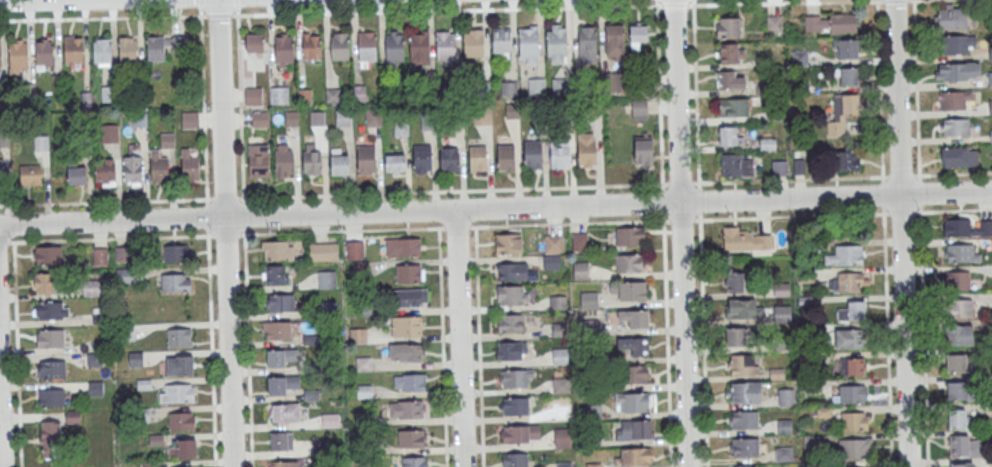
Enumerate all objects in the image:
road: (44, 0)
road: (895, 0)
road: (909, 0)
road: (786, 3)
road: (200, 4)
road: (236, 4)
road: (676, 6)
road: (447, 10)
road: (218, 14)
road: (103, 17)
building: (953, 19)
building: (773, 23)
building: (830, 24)
building: (728, 26)
building: (639, 34)
building: (614, 38)
building: (502, 40)
building: (475, 42)
building: (255, 43)
building: (529, 44)
building: (556, 45)
building: (588, 45)
building: (956, 45)
building: (367, 46)
building: (312, 47)
building: (340, 47)
building: (395, 47)
building: (420, 47)
building: (446, 47)
building: (156, 48)
building: (74, 49)
building: (284, 49)
building: (847, 49)
building: (103, 50)
building: (128, 51)
building: (730, 52)
building: (45, 53)
building: (19, 54)
building: (0, 56)
building: (956, 71)
building: (848, 76)
building: (729, 80)
building: (562, 86)
building: (581, 86)
building: (537, 87)
building: (509, 88)
road: (916, 89)
road: (879, 91)
building: (110, 94)
building: (279, 95)
road: (660, 95)
road: (696, 95)
building: (253, 96)
building: (305, 96)
building: (333, 96)
building: (954, 99)
road: (240, 105)
road: (203, 106)
building: (990, 106)
building: (733, 107)
building: (595, 108)
building: (639, 108)
building: (539, 110)
building: (513, 112)
building: (842, 113)
building: (482, 115)
building: (374, 117)
building: (291, 118)
building: (344, 118)
building: (259, 119)
building: (190, 120)
building: (428, 122)
building: (954, 126)
building: (401, 128)
building: (321, 130)
building: (109, 135)
building: (732, 135)
building: (83, 140)
building: (168, 140)
building: (42, 143)
building: (768, 143)
building: (644, 149)
building: (587, 151)
building: (533, 153)
building: (560, 153)
building: (959, 156)
building: (422, 158)
building: (478, 158)
building: (506, 158)
building: (366, 159)
building: (449, 159)
building: (849, 159)
building: (283, 162)
building: (312, 162)
building: (339, 162)
building: (395, 162)
building: (258, 164)
building: (158, 165)
building: (736, 165)
building: (189, 166)
building: (779, 168)
building: (132, 169)
building: (1, 171)
building: (104, 171)
road: (953, 173)
building: (76, 174)
road: (901, 175)
building: (31, 176)
road: (563, 187)
road: (919, 192)
road: (883, 194)
road: (225, 198)
road: (106, 202)
road: (700, 202)
road: (663, 203)
road: (495, 208)
road: (953, 210)
road: (901, 212)
road: (244, 215)
road: (207, 216)
road: (564, 223)
building: (967, 227)
road: (13, 230)
road: (225, 233)
road: (681, 233)
road: (900, 233)
road: (227, 234)
building: (631, 237)
road: (106, 238)
building: (747, 241)
building: (580, 242)
building: (509, 244)
building: (554, 244)
building: (403, 247)
building: (277, 250)
building: (355, 250)
building: (324, 252)
building: (175, 253)
building: (960, 253)
building: (48, 255)
building: (846, 255)
building: (100, 256)
building: (552, 262)
building: (629, 264)
building: (362, 269)
building: (581, 271)
building: (514, 272)
building: (409, 274)
building: (125, 275)
building: (275, 275)
building: (807, 276)
building: (957, 279)
building: (326, 281)
building: (734, 281)
building: (847, 281)
building: (45, 283)
building: (176, 283)
building: (90, 288)
building: (782, 289)
building: (633, 291)
building: (510, 295)
building: (411, 298)
building: (589, 300)
building: (557, 302)
building: (805, 302)
building: (280, 303)
building: (363, 306)
building: (959, 307)
building: (743, 308)
building: (328, 309)
building: (50, 310)
building: (853, 311)
building: (783, 315)
building: (635, 319)
building: (511, 324)
building: (407, 326)
building: (591, 326)
building: (278, 330)
building: (560, 330)
building: (127, 332)
building: (807, 333)
building: (959, 334)
building: (358, 336)
building: (742, 336)
road: (887, 336)
road: (923, 336)
road: (479, 337)
building: (51, 338)
building: (179, 338)
road: (442, 338)
road: (459, 338)
building: (848, 338)
building: (311, 340)
road: (667, 341)
road: (703, 341)
building: (783, 343)
building: (635, 346)
road: (247, 347)
road: (211, 348)
building: (512, 351)
road: (17, 352)
building: (406, 352)
building: (281, 356)
building: (560, 357)
building: (95, 359)
building: (136, 359)
building: (808, 359)
building: (599, 360)
building: (959, 362)
building: (364, 364)
building: (746, 365)
building: (852, 365)
building: (181, 366)
building: (312, 367)
building: (53, 370)
building: (633, 374)
building: (777, 374)
building: (516, 378)
building: (409, 381)
building: (144, 384)
building: (282, 384)
building: (562, 385)
building: (811, 385)
building: (97, 388)
building: (957, 391)
building: (364, 392)
building: (180, 393)
building: (747, 393)
building: (851, 393)
building: (312, 394)
building: (50, 397)
building: (787, 397)
building: (634, 402)
building: (516, 406)
building: (407, 410)
building: (825, 411)
building: (593, 412)
building: (286, 413)
building: (563, 414)
building: (141, 415)
building: (364, 418)
building: (957, 419)
building: (745, 420)
building: (182, 421)
building: (330, 421)
building: (854, 421)
building: (785, 426)
building: (635, 430)
building: (521, 434)
building: (50, 438)
building: (156, 439)
building: (411, 439)
building: (561, 440)
building: (586, 440)
building: (282, 441)
building: (812, 443)
building: (365, 444)
building: (322, 447)
building: (746, 447)
building: (964, 447)
building: (182, 448)
building: (854, 449)
building: (784, 454)
building: (636, 458)
building: (515, 460)
building: (415, 462)
building: (284, 463)
building: (150, 464)
building: (594, 465)
building: (814, 465)
road: (0, 466)

